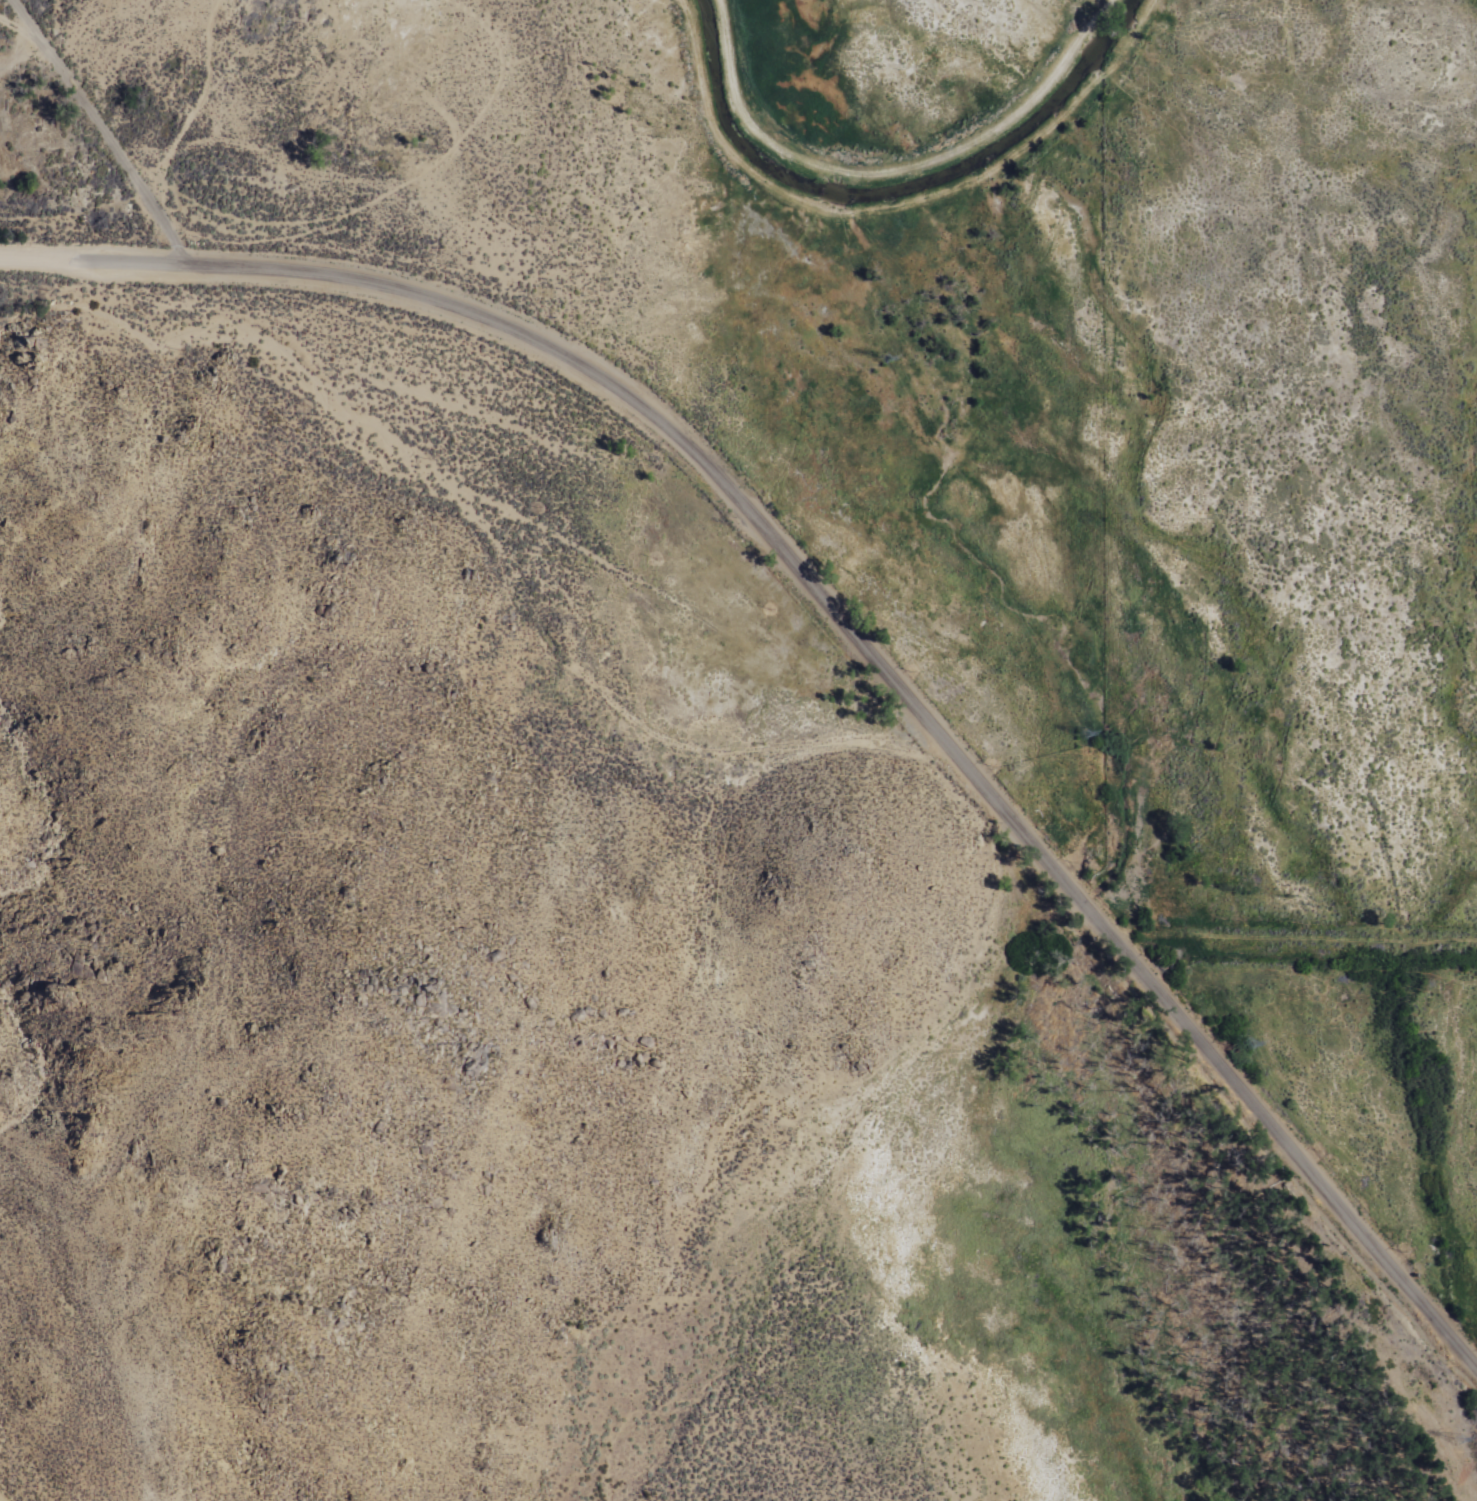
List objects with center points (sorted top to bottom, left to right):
quarry: (238, 108)
road: (102, 132)
road: (887, 169)
road: (891, 206)
road: (96, 263)
power tower: (887, 362)
road: (909, 708)
power tower: (1087, 731)
power tower: (1255, 1047)
power tower: (1461, 1444)

